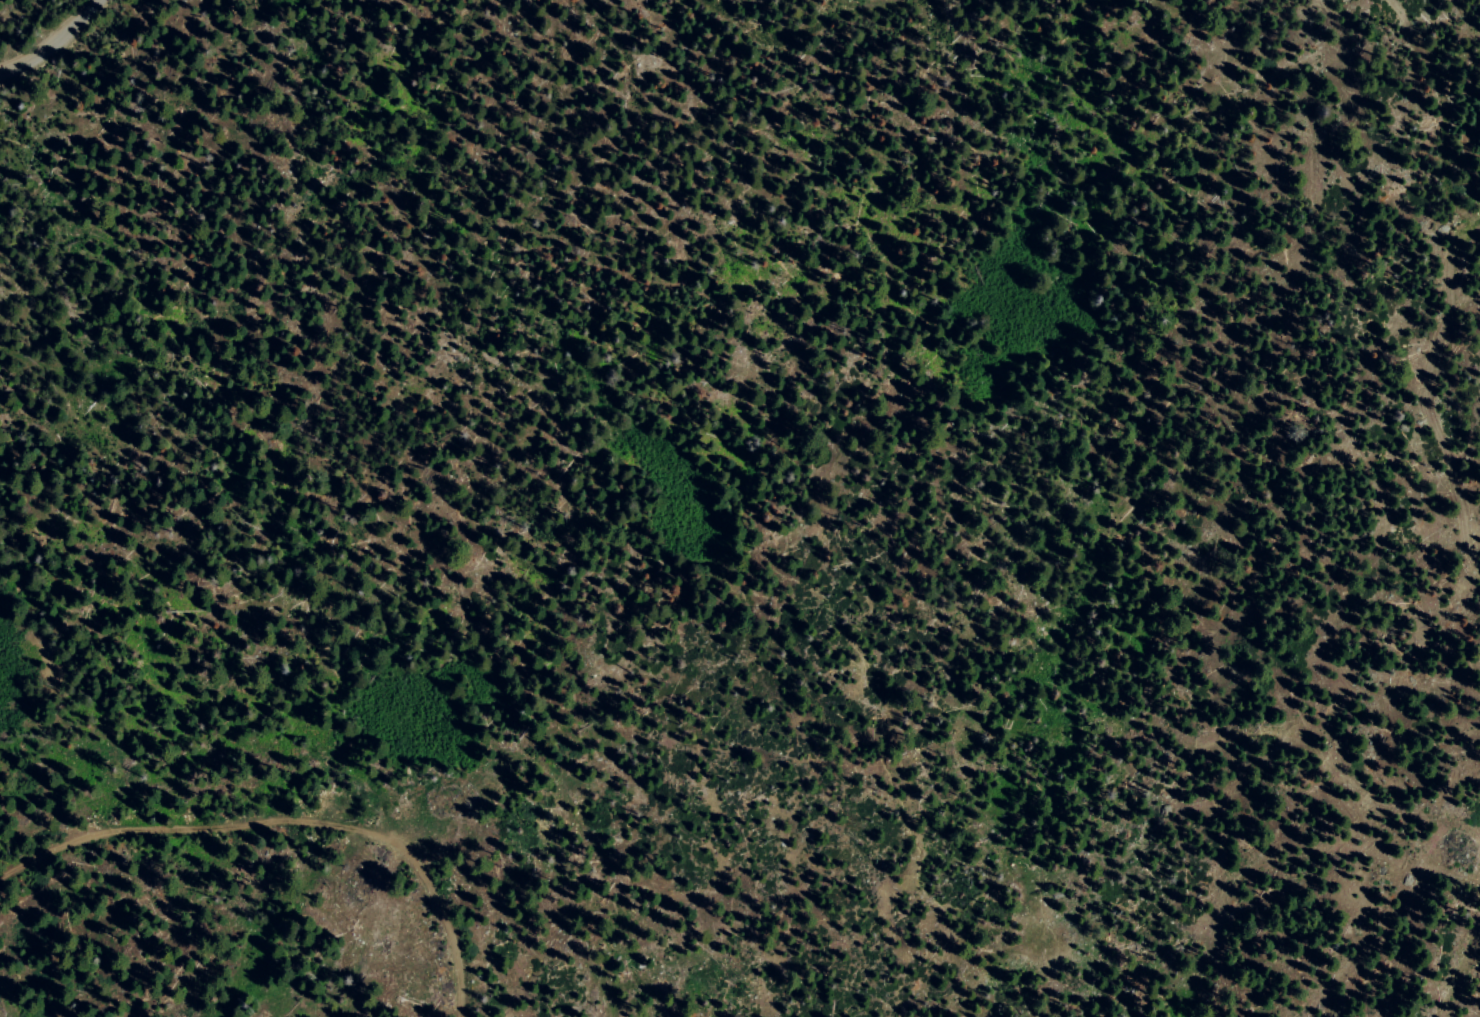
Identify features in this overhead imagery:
road: (52, 40)
road: (291, 818)

